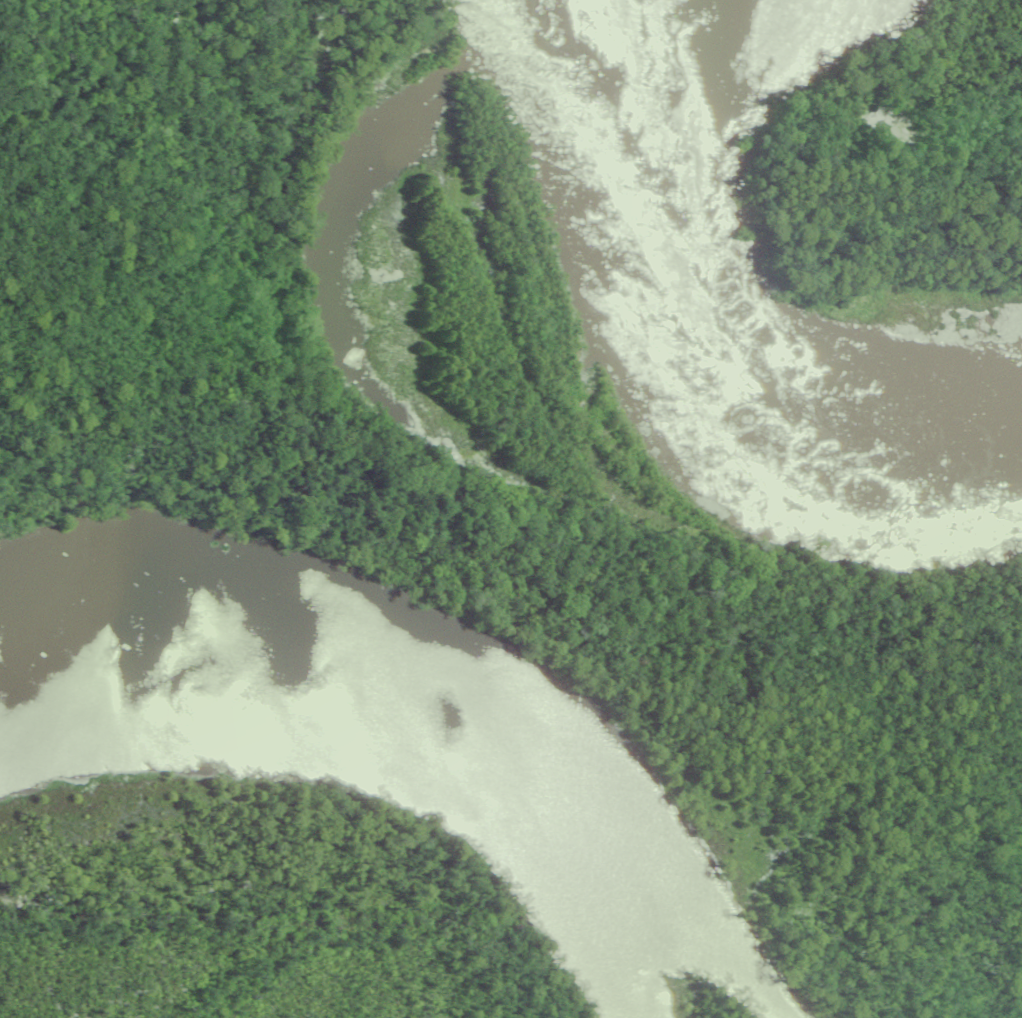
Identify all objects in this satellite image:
river: (697, 331)

